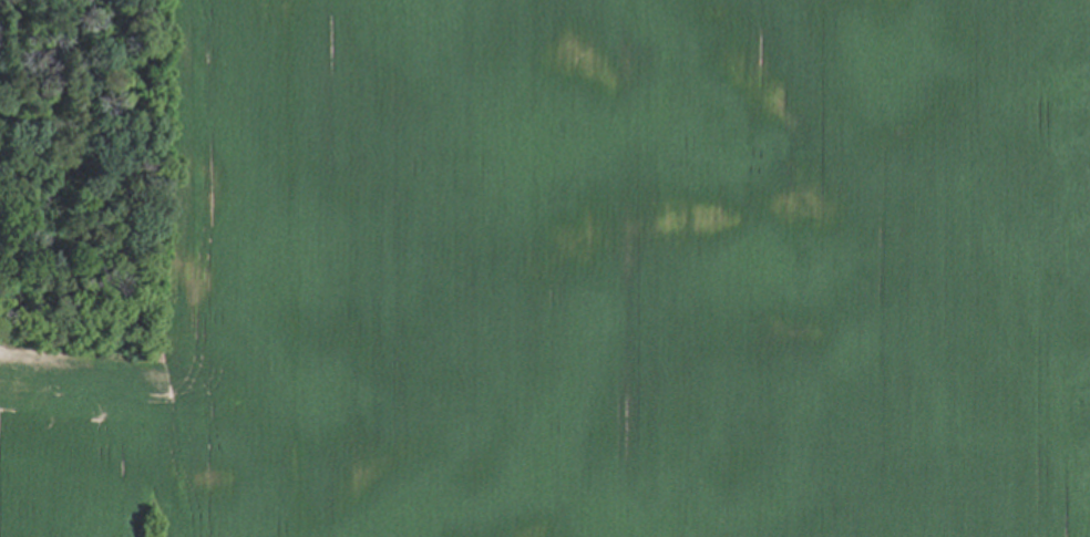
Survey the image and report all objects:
crop: (570, 278)

